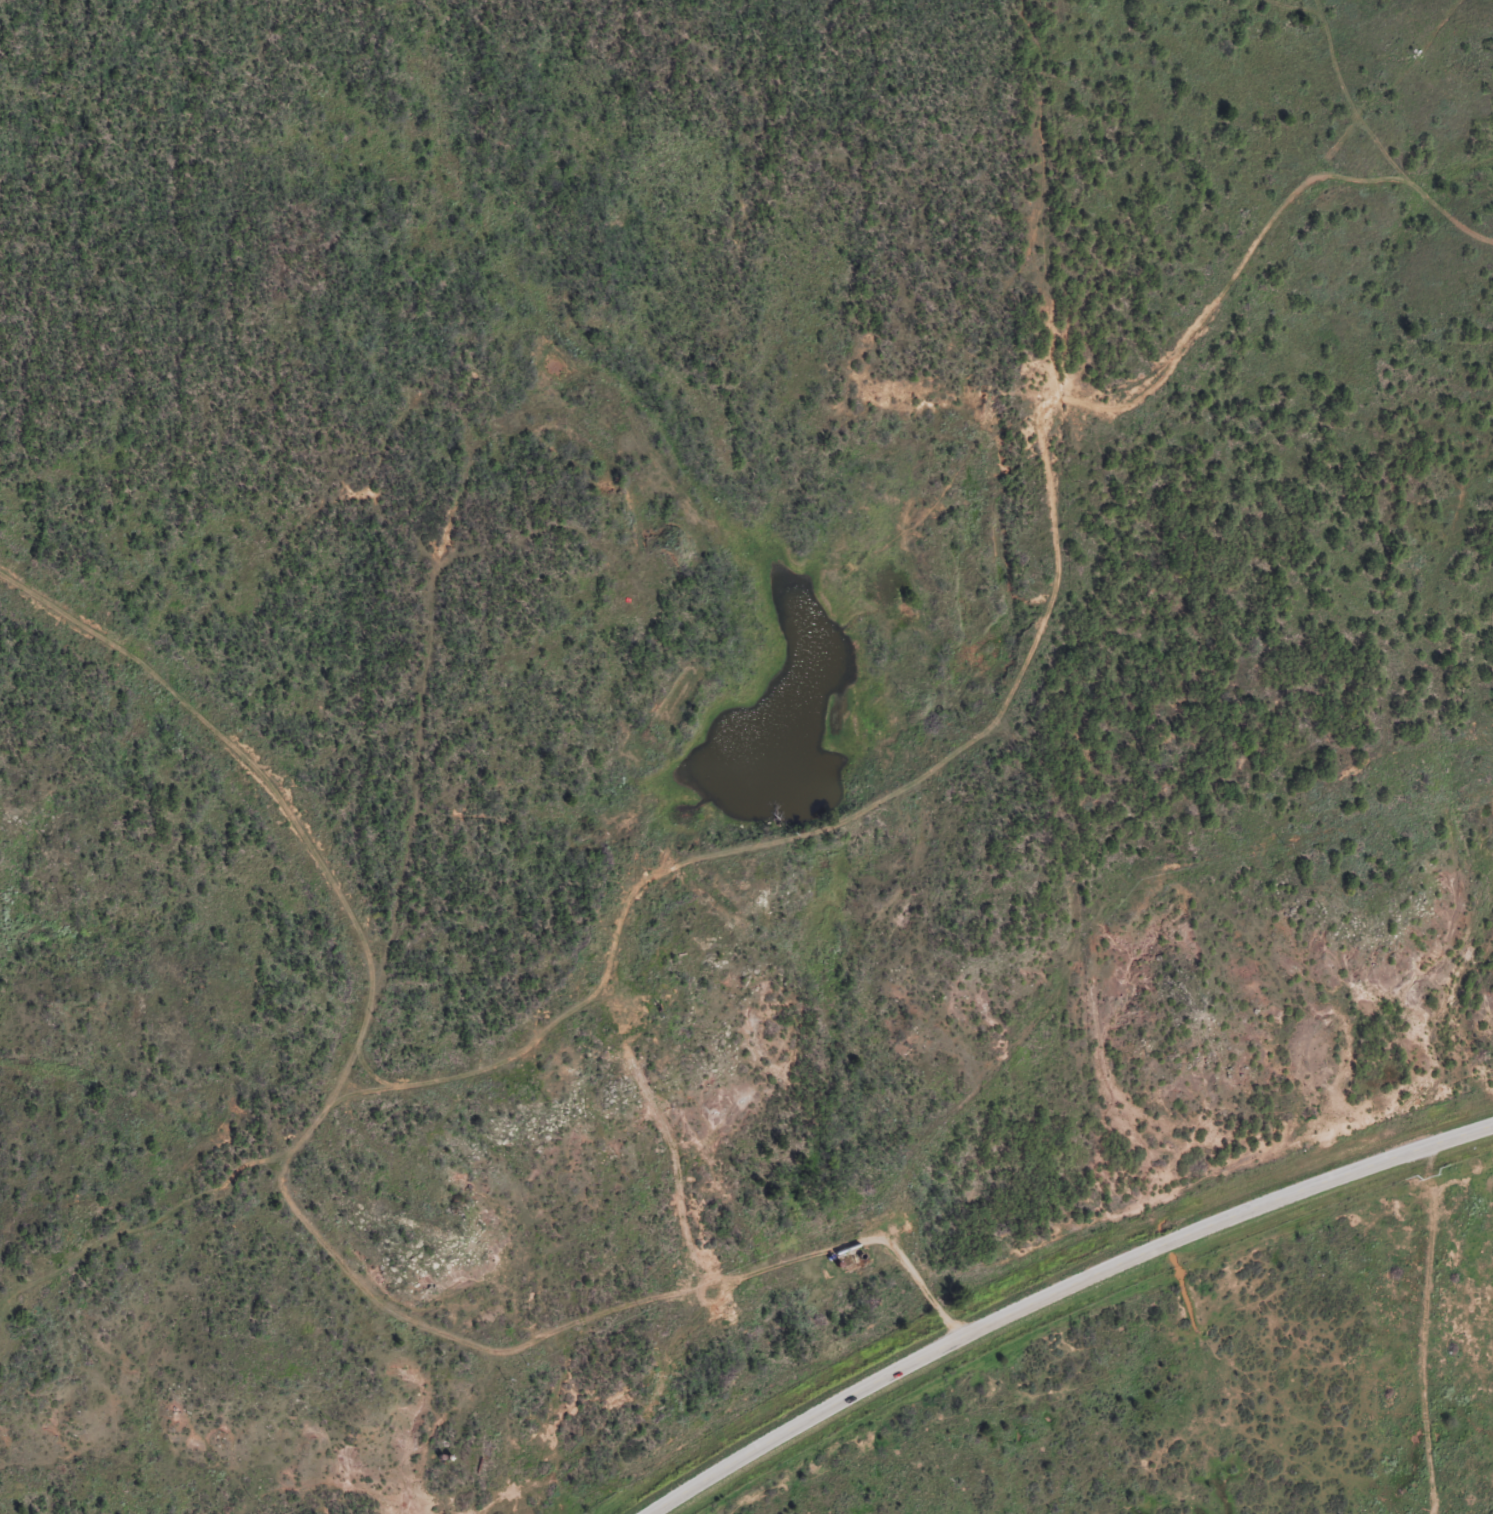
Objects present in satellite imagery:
road: (1039, 702)
road: (309, 1148)
road: (1063, 1292)
road: (1426, 1336)

